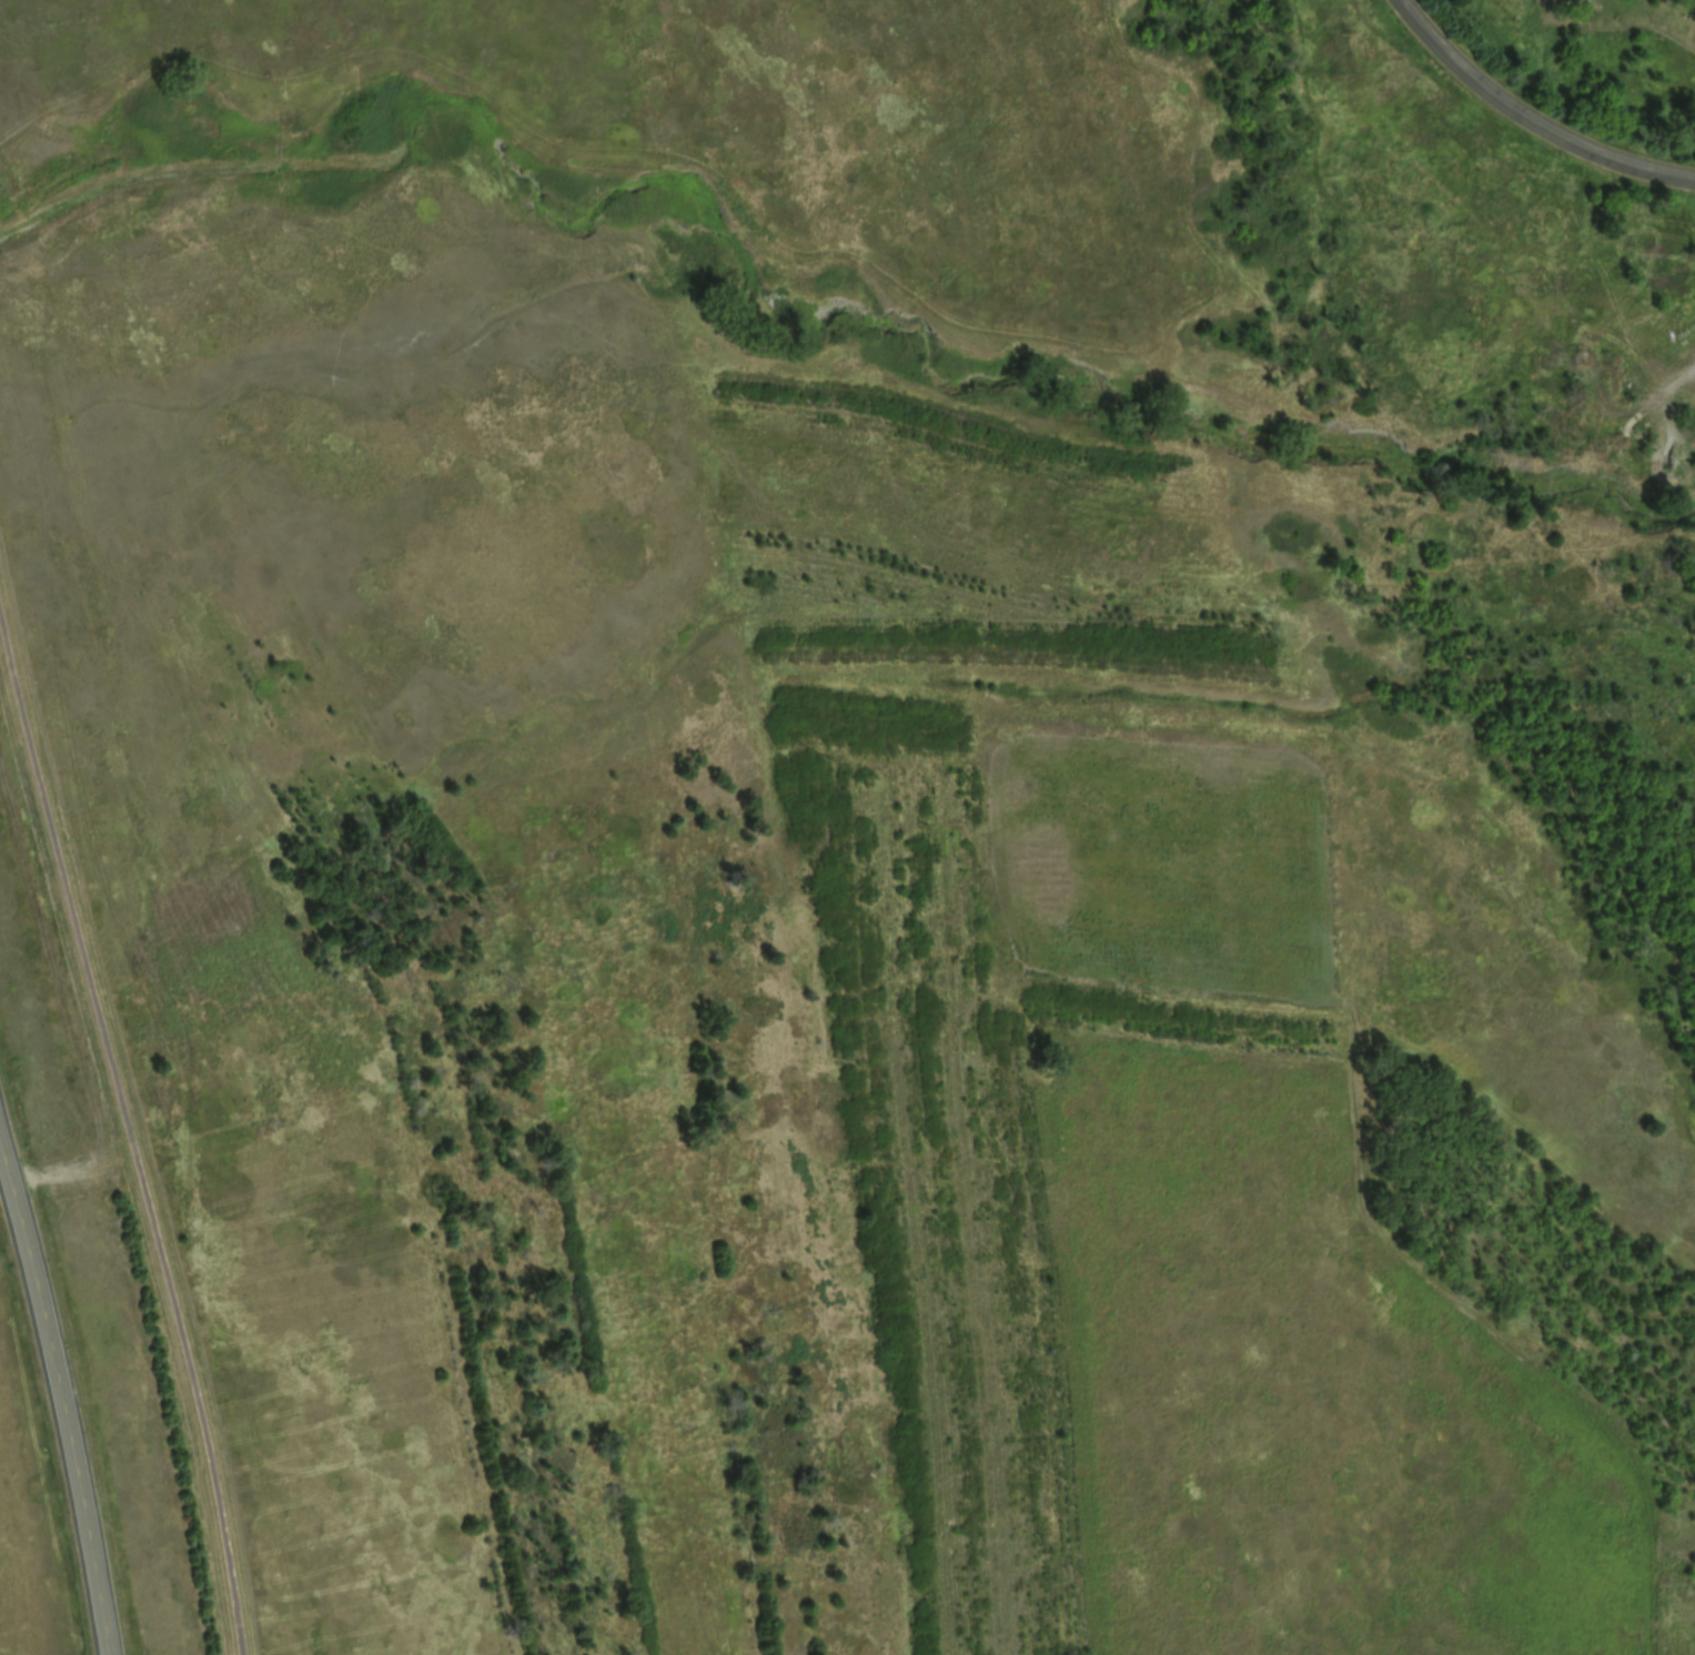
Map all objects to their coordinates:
road: (1528, 122)
road: (132, 1129)
road: (60, 1402)

